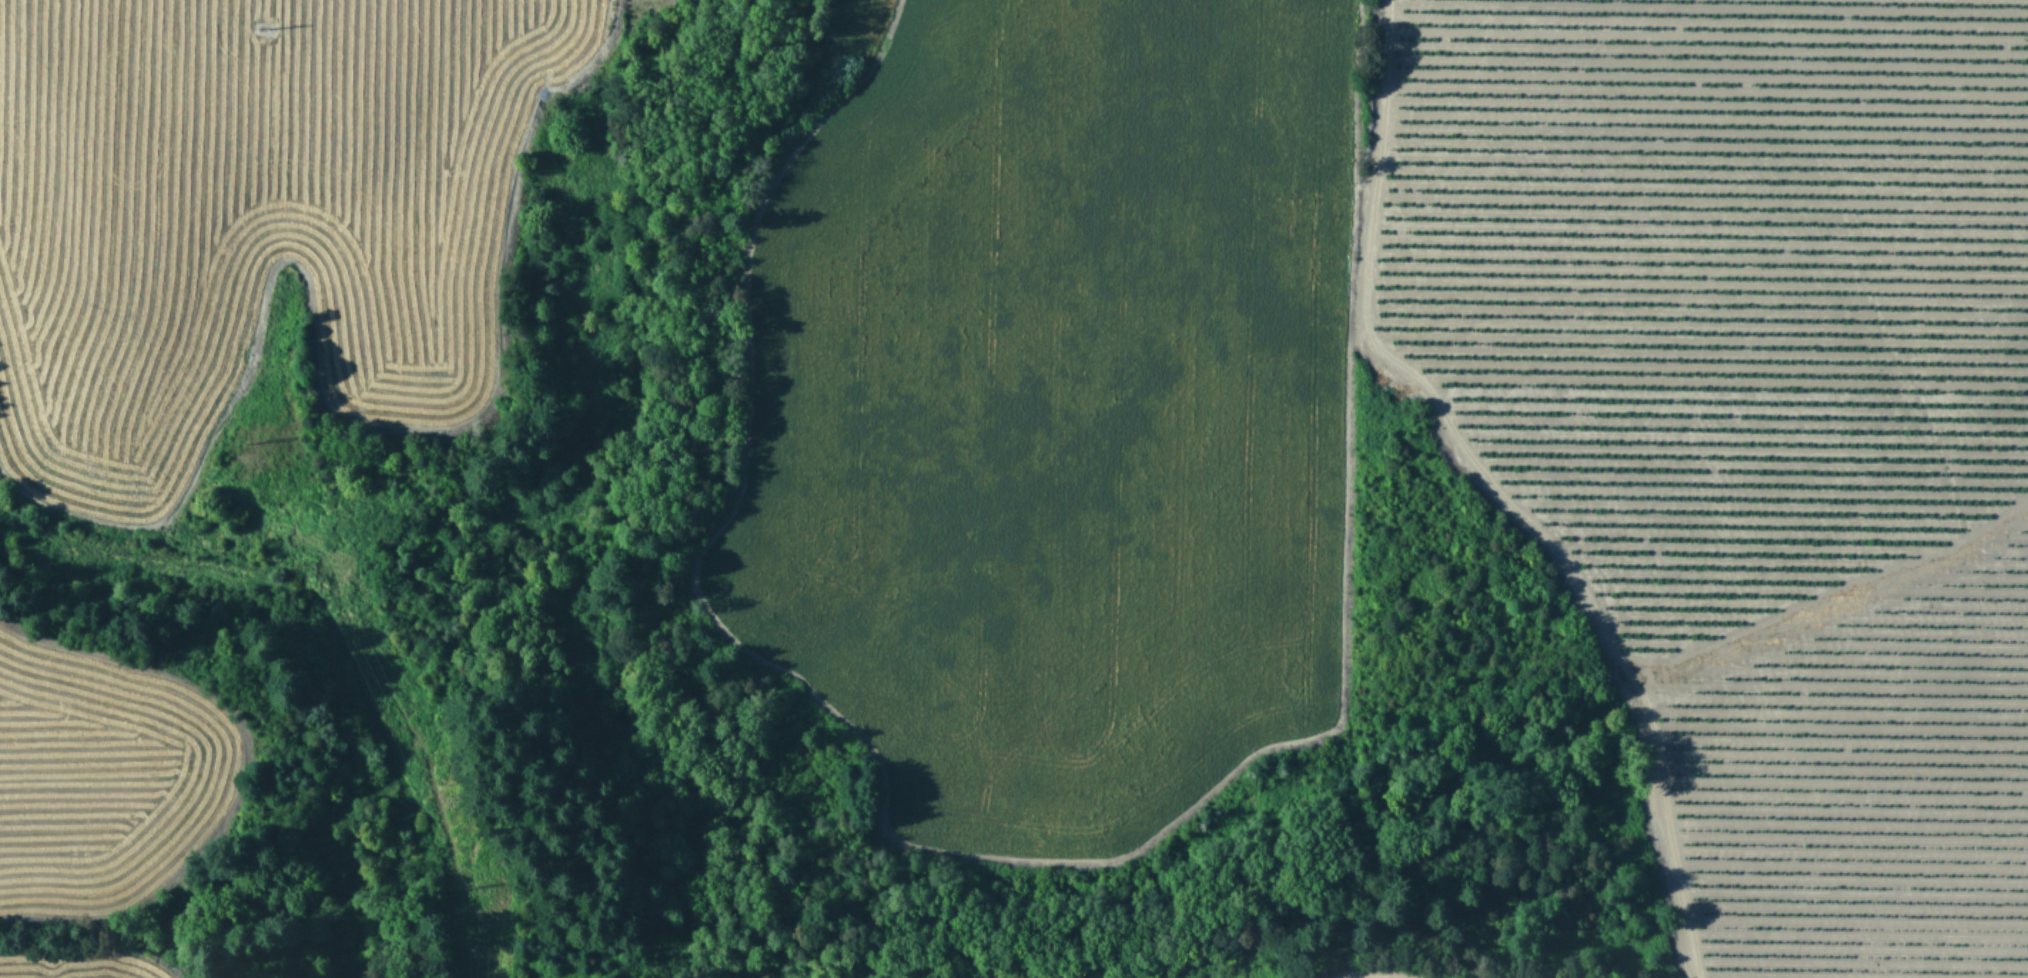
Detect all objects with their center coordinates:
crop: (277, 211)
crop: (1422, 412)
crop: (77, 843)
crop: (1293, 959)

